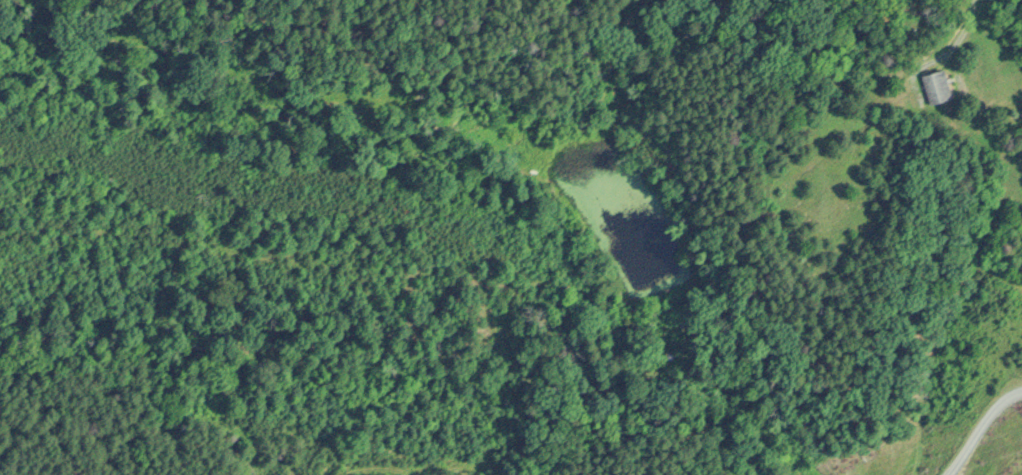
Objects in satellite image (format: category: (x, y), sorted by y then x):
road: (965, 26)
building: (933, 85)
road: (975, 424)

